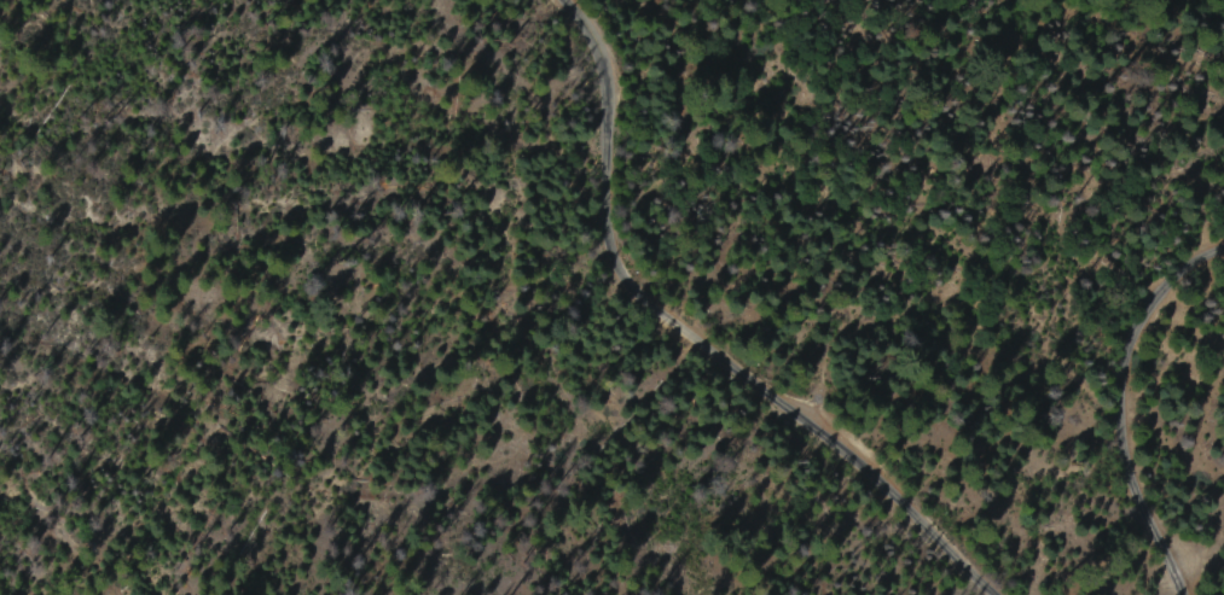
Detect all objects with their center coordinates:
road: (698, 333)
road: (1115, 401)

